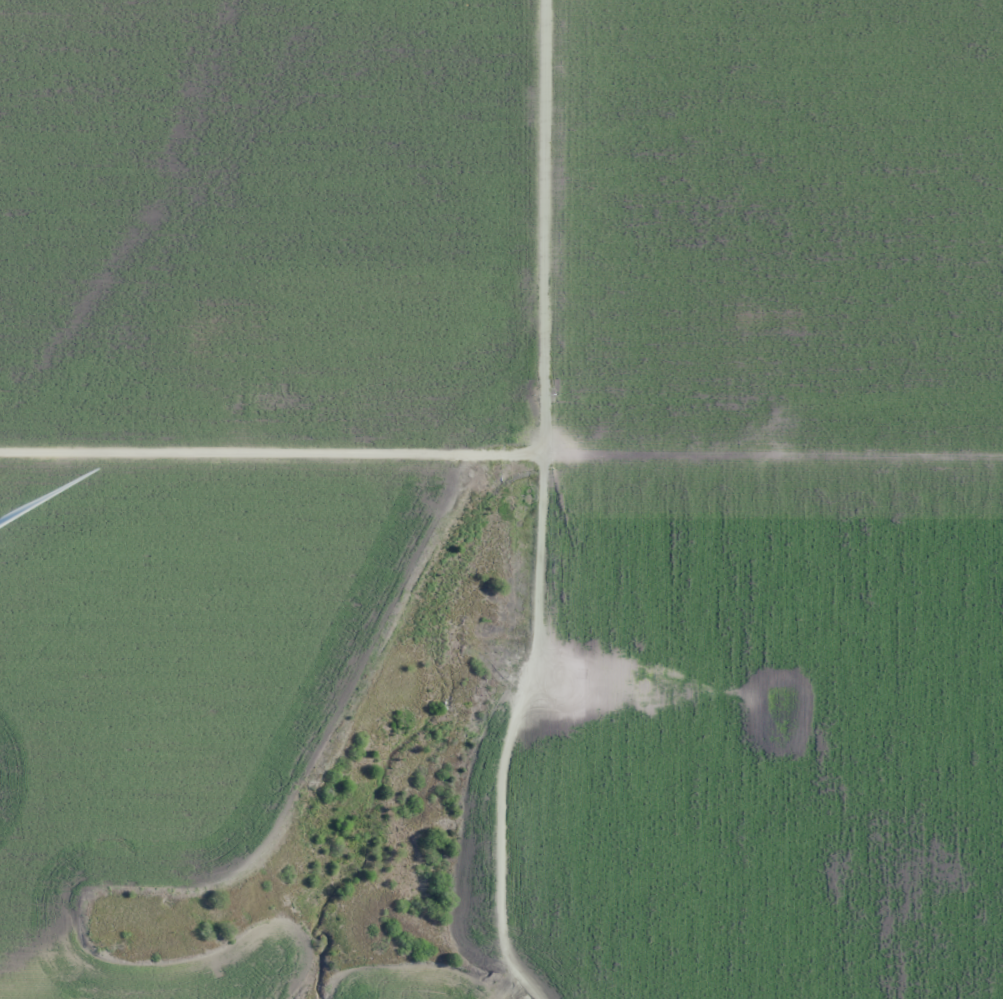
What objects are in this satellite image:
road: (552, 210)
road: (509, 448)
road: (347, 727)

